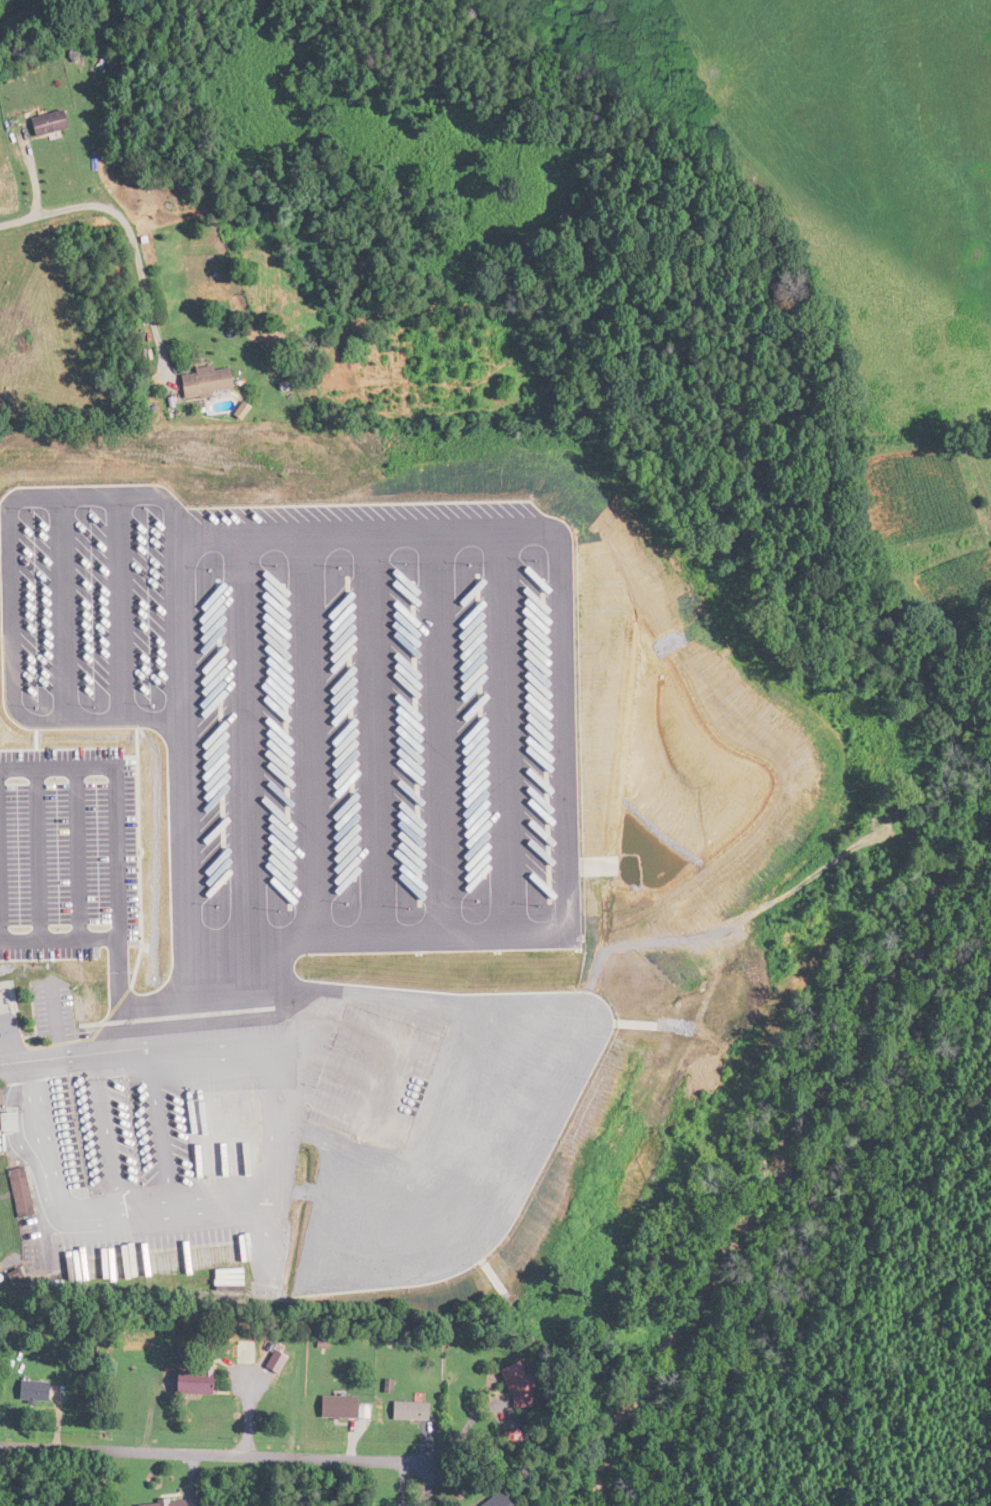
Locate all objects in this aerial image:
building: (37, 123)
road: (79, 207)
building: (199, 381)
building: (25, 461)
building: (250, 538)
road: (25, 549)
building: (493, 554)
road: (223, 598)
building: (255, 848)
building: (314, 851)
road: (279, 948)
building: (291, 1209)
building: (238, 1350)
building: (185, 1381)
building: (509, 1384)
building: (27, 1390)
building: (331, 1409)
building: (402, 1410)
road: (226, 1453)
building: (487, 1501)
building: (153, 1503)

